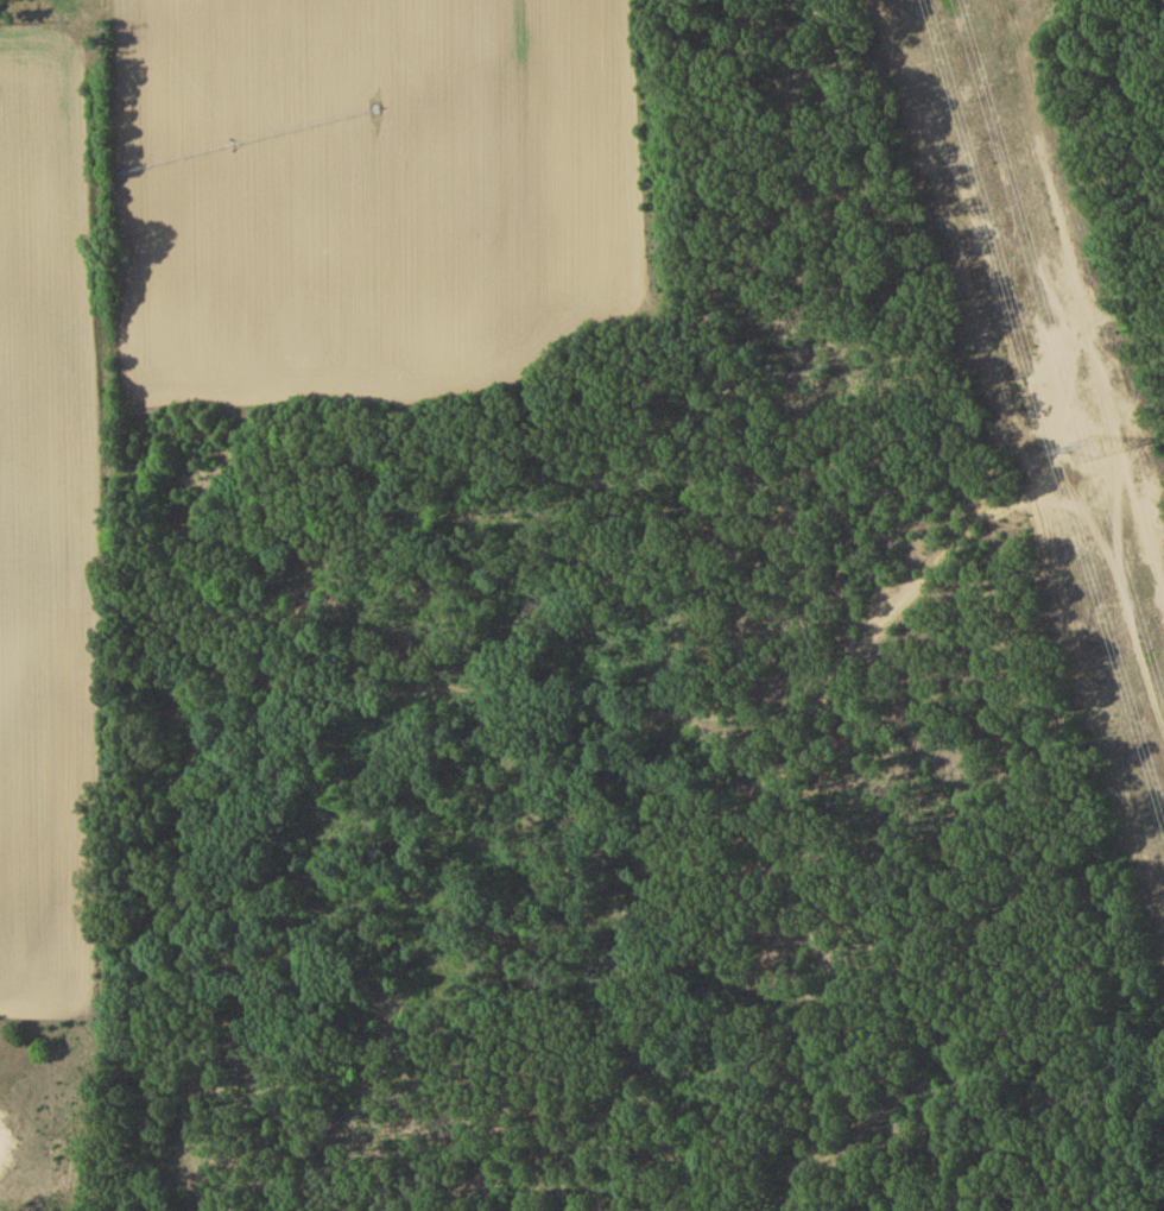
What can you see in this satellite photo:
power tower: (1083, 453)

